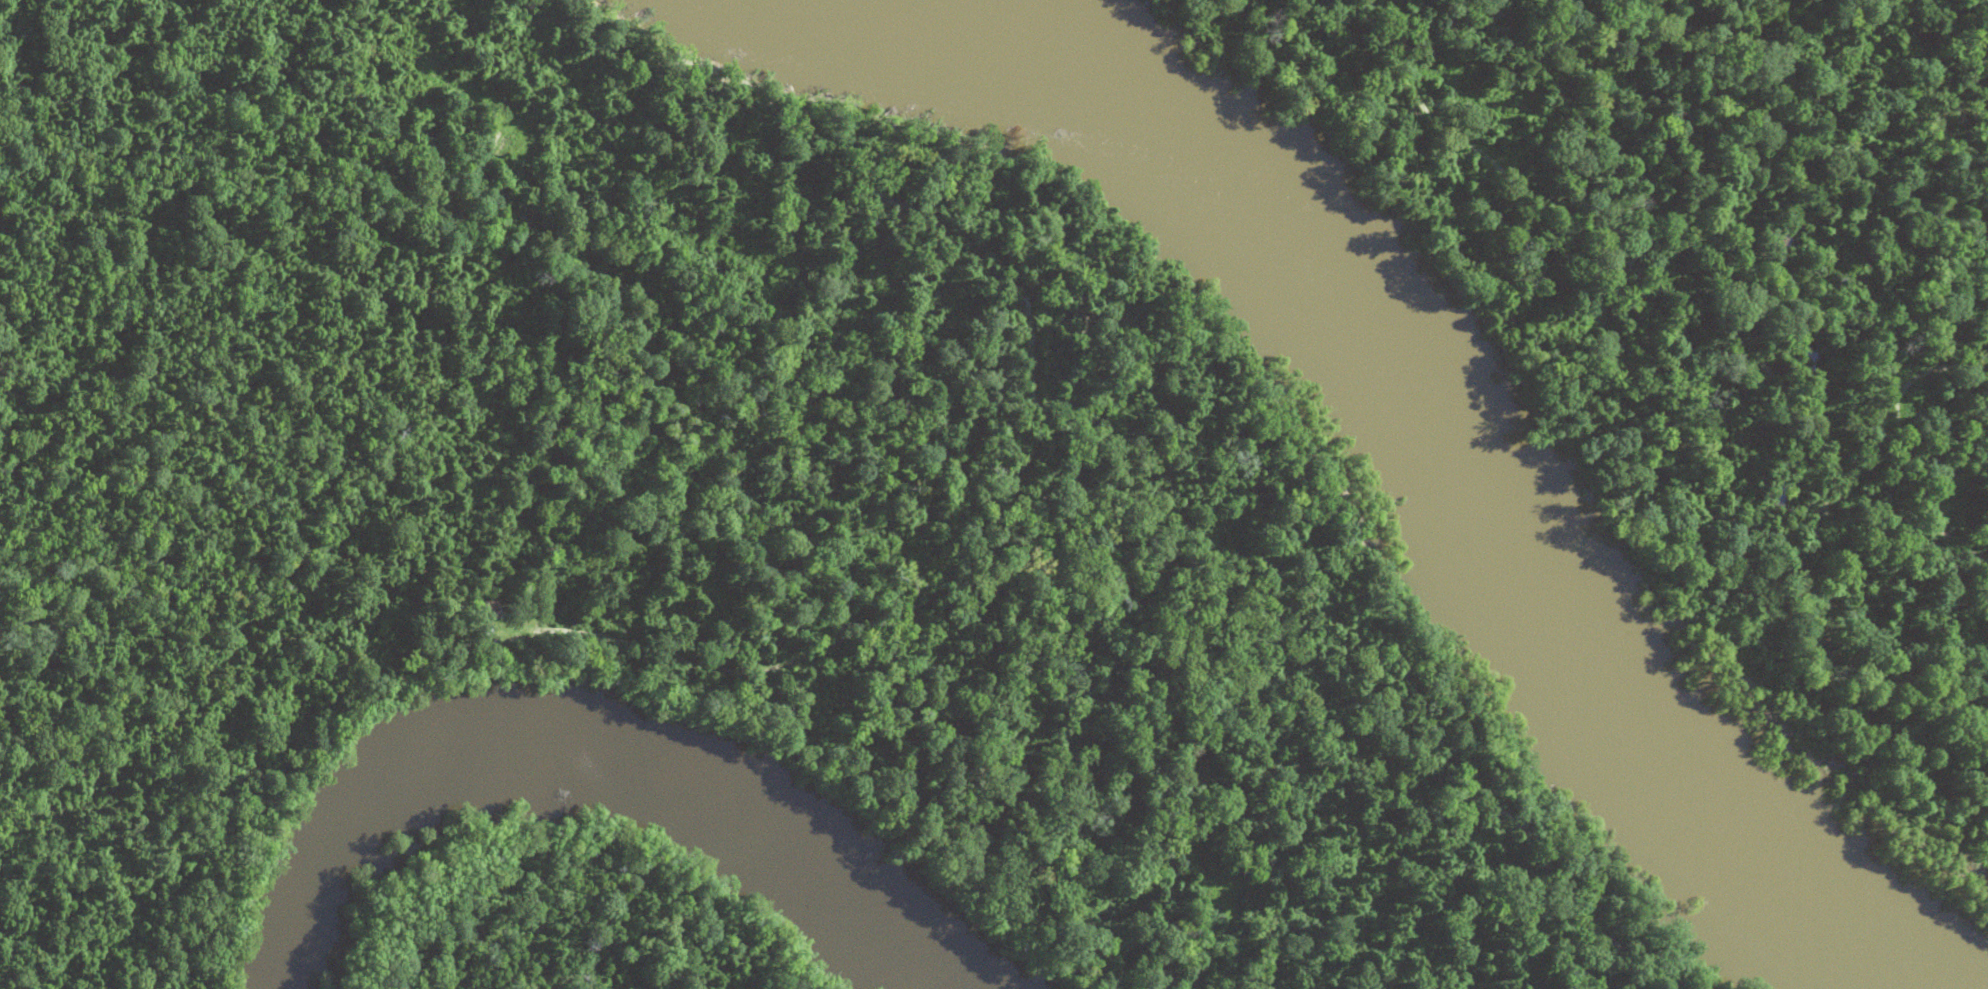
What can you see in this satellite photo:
river: (1415, 394)

